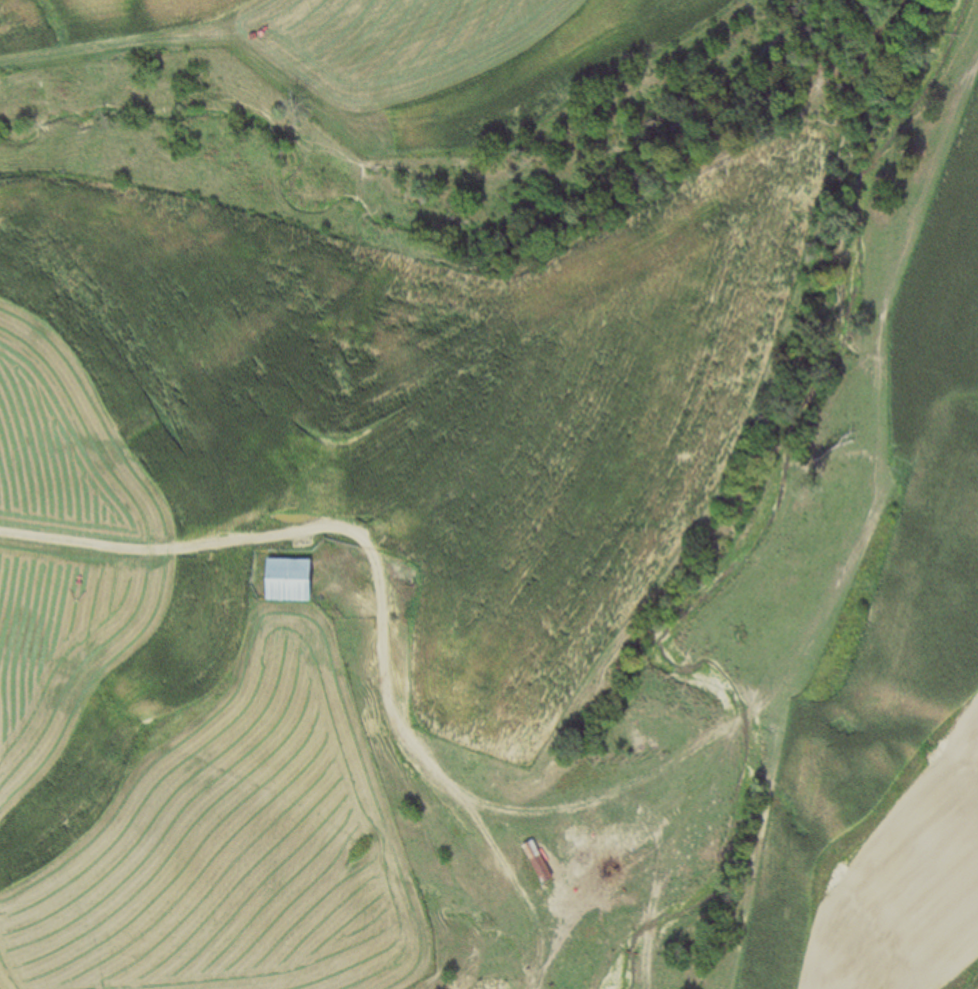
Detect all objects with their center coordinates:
building: (281, 580)
building: (534, 861)

